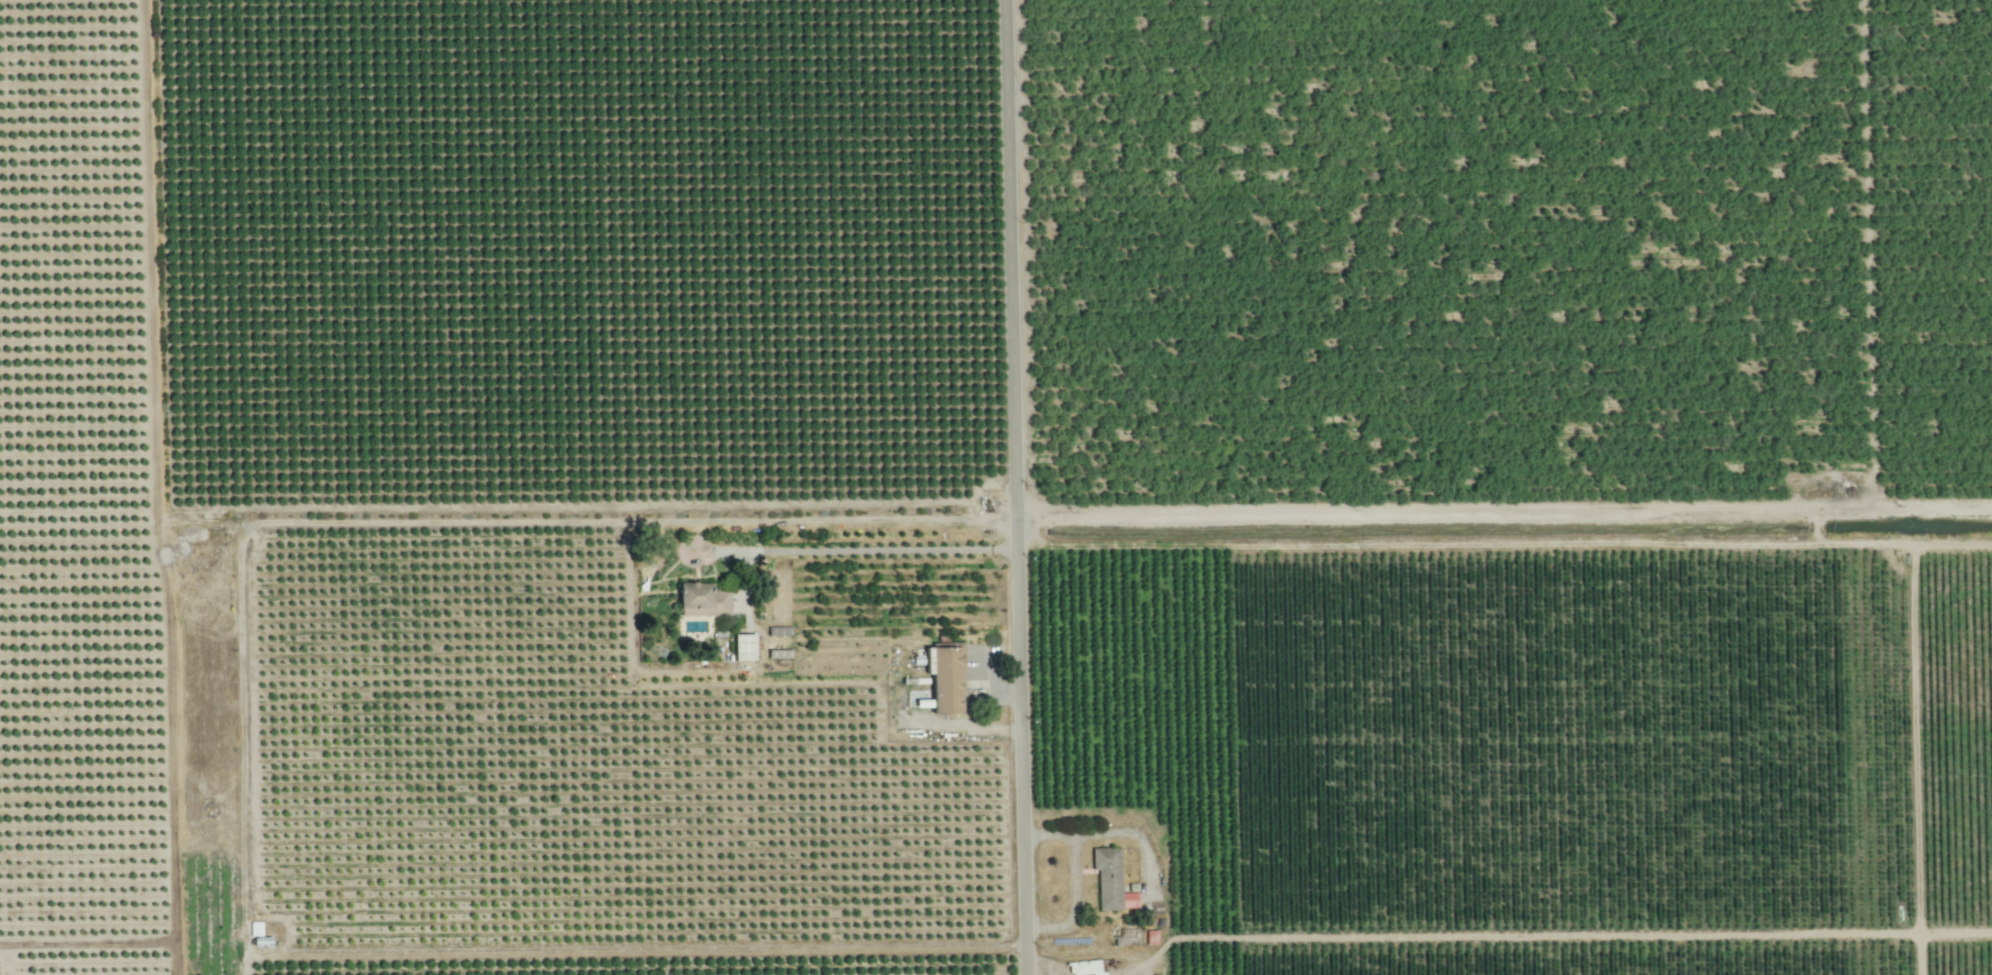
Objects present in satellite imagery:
road: (1015, 487)
road: (1504, 517)
road: (508, 525)
road: (866, 553)
building: (705, 601)
building: (781, 631)
building: (747, 648)
building: (782, 652)
building: (941, 682)
building: (1110, 880)
building: (257, 929)
building: (265, 943)
building: (230, 944)

